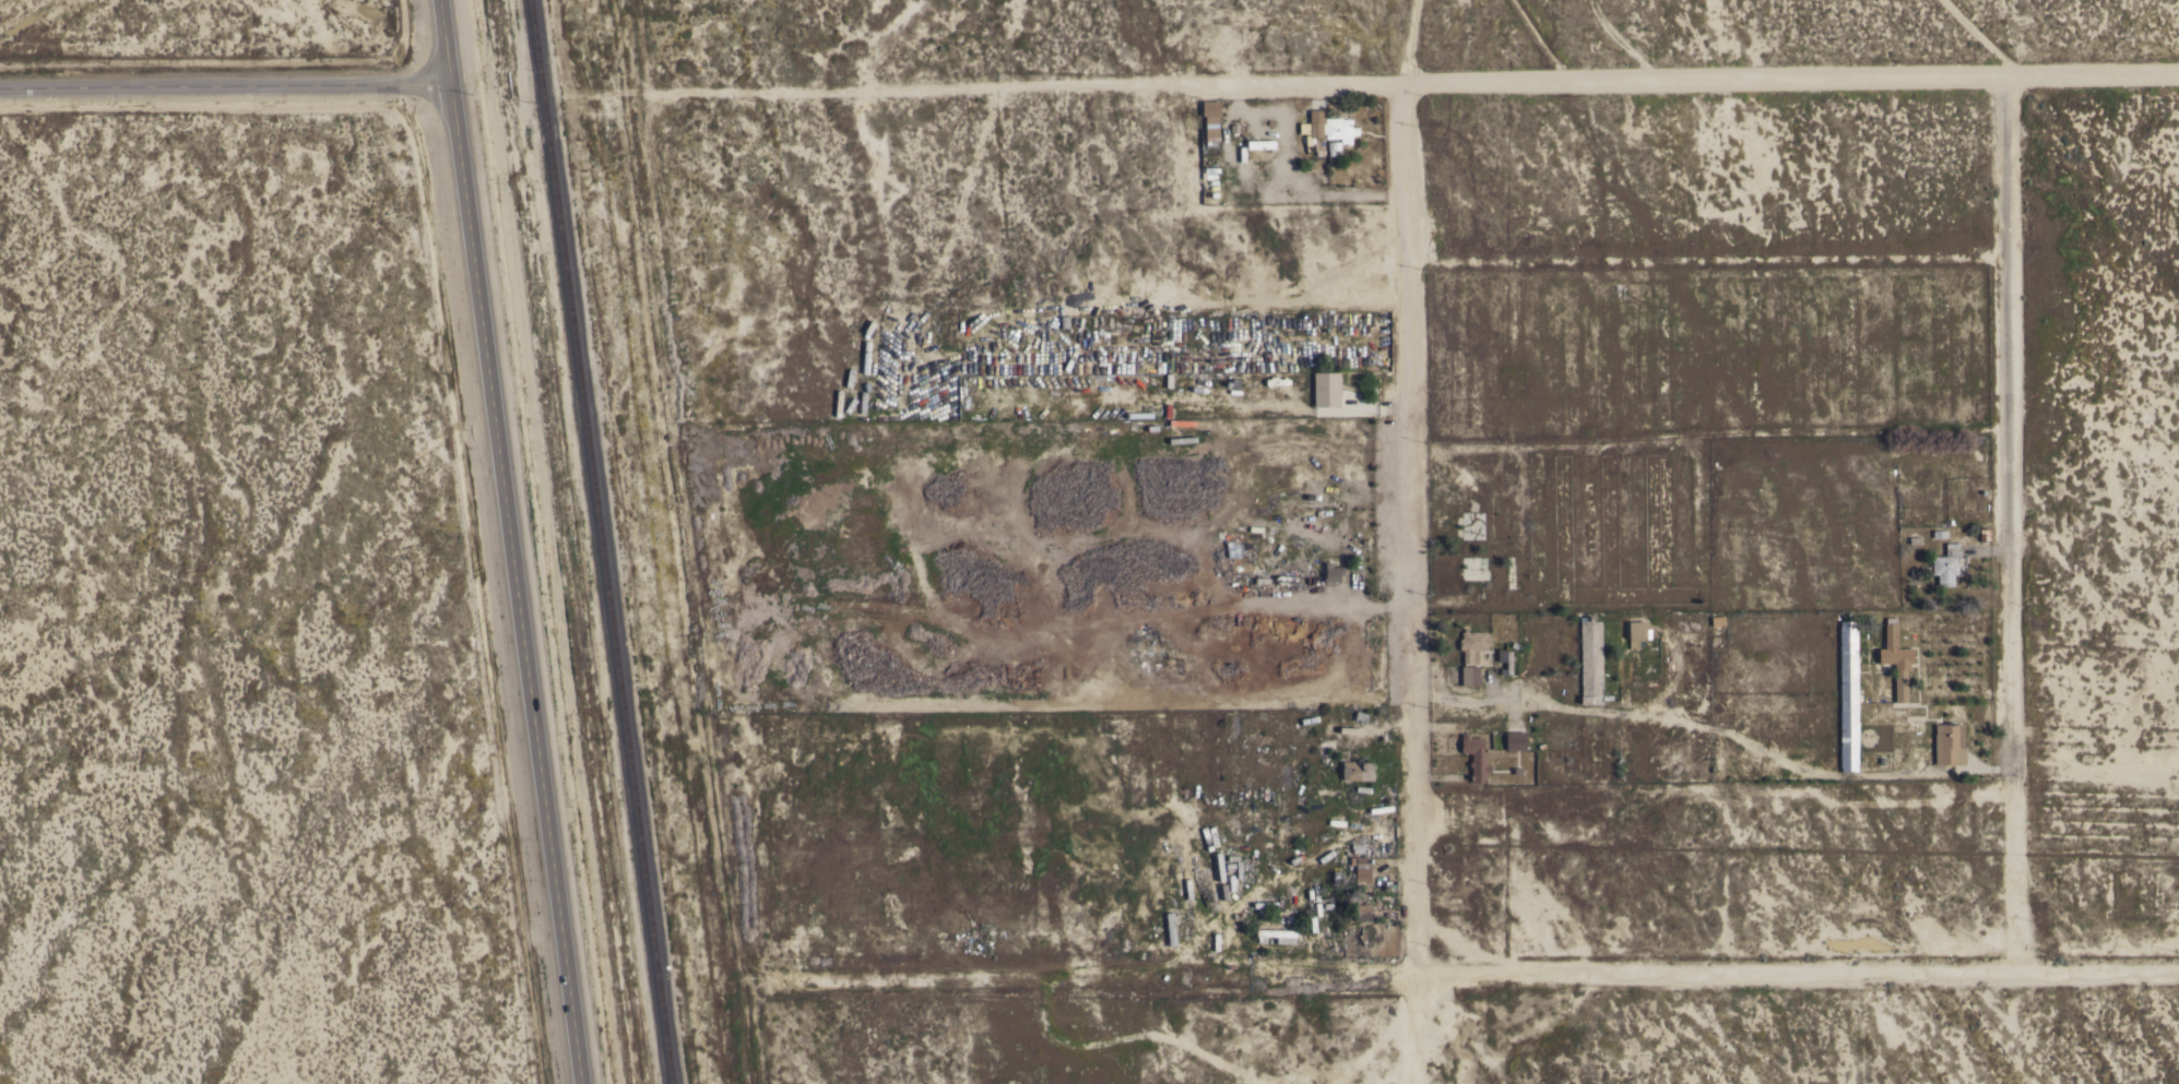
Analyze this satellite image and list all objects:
road: (450, 43)
road: (631, 49)
road: (1408, 82)
road: (228, 87)
building: (1210, 119)
building: (1313, 126)
building: (1339, 129)
building: (1260, 143)
building: (1317, 145)
building: (1334, 147)
building: (1326, 389)
road: (2012, 524)
road: (1408, 528)
railway: (600, 541)
building: (1945, 564)
building: (1331, 572)
road: (521, 584)
road: (697, 592)
building: (1635, 640)
building: (1471, 654)
building: (1504, 660)
building: (1590, 660)
building: (1895, 660)
building: (1848, 695)
building: (1515, 740)
building: (1946, 741)
building: (1591, 747)
building: (1475, 757)
building: (1357, 770)
building: (1359, 871)
building: (1362, 910)
building: (1275, 934)
road: (1804, 972)
road: (1087, 977)
road: (1414, 1031)

